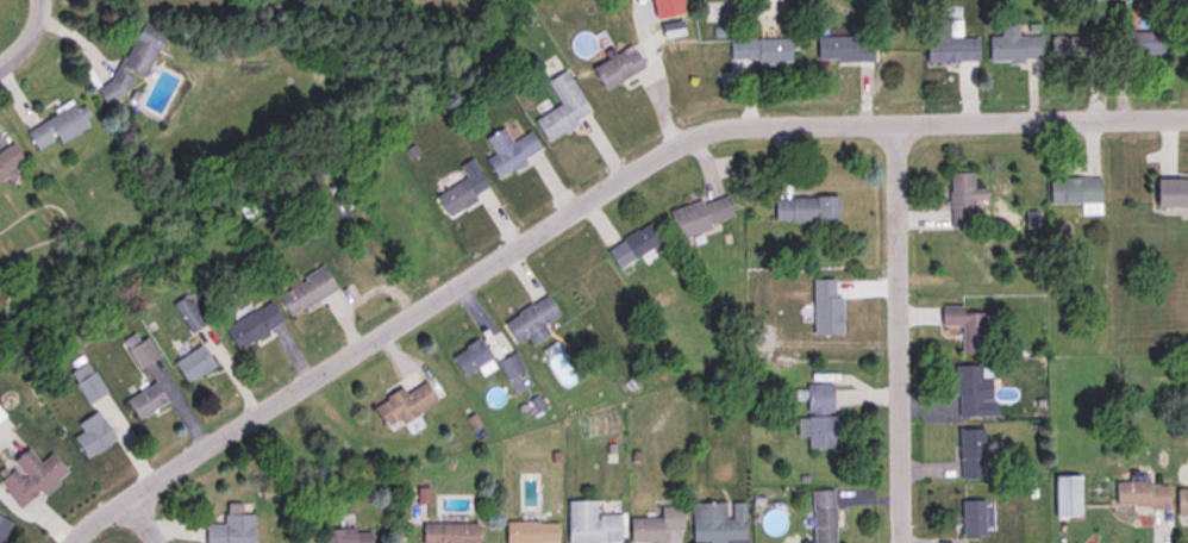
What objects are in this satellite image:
building: (664, 7)
building: (671, 29)
road: (30, 39)
building: (950, 42)
building: (1144, 44)
building: (1014, 46)
building: (844, 49)
building: (1067, 49)
building: (759, 51)
building: (132, 61)
building: (617, 68)
building: (561, 106)
building: (55, 127)
building: (508, 150)
building: (10, 162)
building: (461, 187)
building: (1076, 193)
building: (1171, 193)
road: (588, 201)
building: (957, 202)
building: (806, 210)
building: (700, 216)
building: (632, 245)
building: (305, 291)
building: (188, 313)
building: (531, 320)
building: (252, 325)
building: (959, 327)
road: (899, 333)
building: (136, 352)
building: (471, 358)
building: (193, 363)
building: (511, 367)
building: (85, 387)
building: (968, 393)
building: (819, 399)
building: (143, 404)
building: (404, 405)
building: (1, 416)
building: (823, 432)
building: (89, 437)
building: (965, 455)
building: (26, 479)
building: (1139, 495)
building: (1063, 499)
building: (1181, 506)
building: (823, 517)
building: (967, 518)
building: (589, 523)
building: (718, 523)
road: (144, 524)
building: (655, 525)
building: (2, 526)
building: (230, 529)
building: (531, 531)
building: (449, 532)
building: (345, 535)

